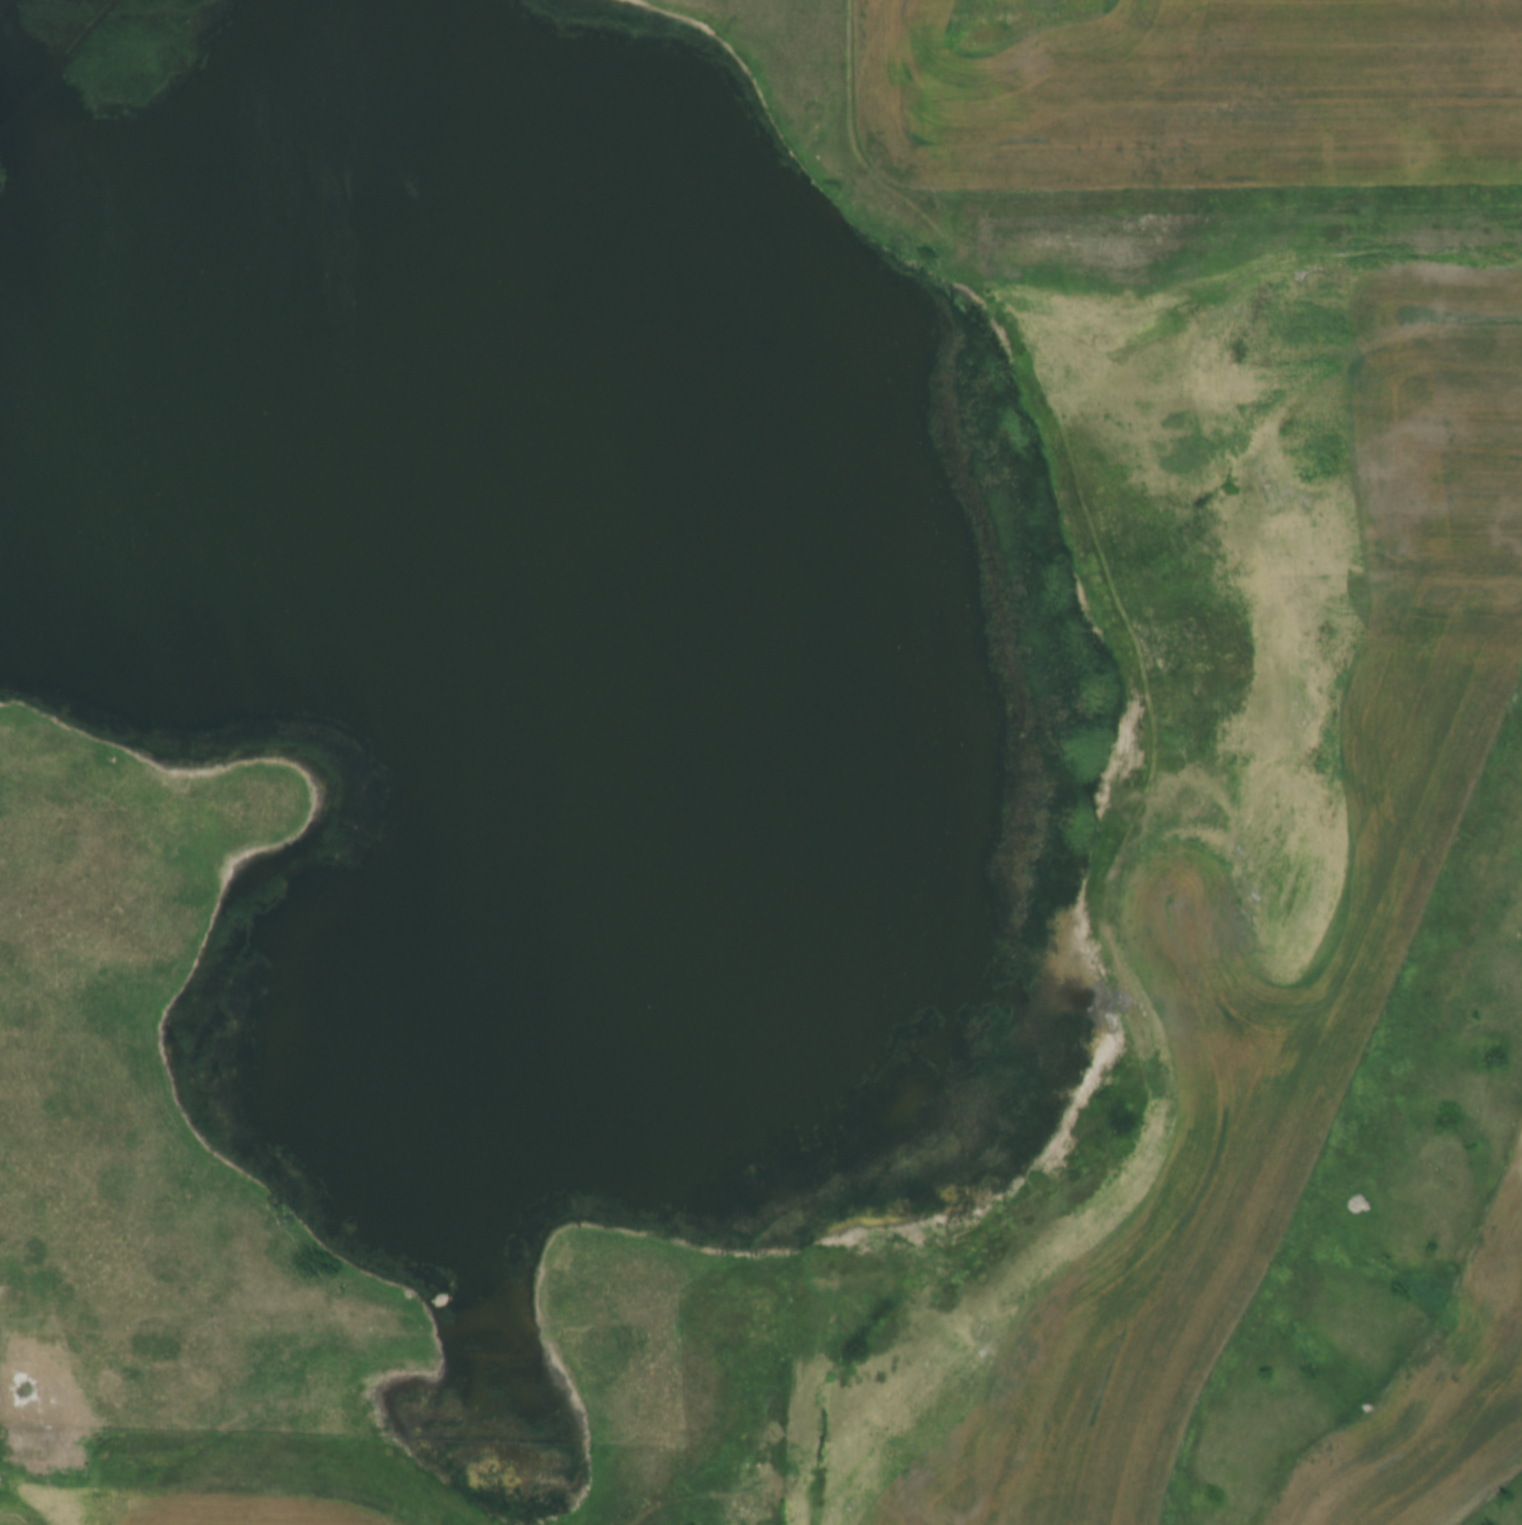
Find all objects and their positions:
road: (708, 1303)
road: (13, 1520)

